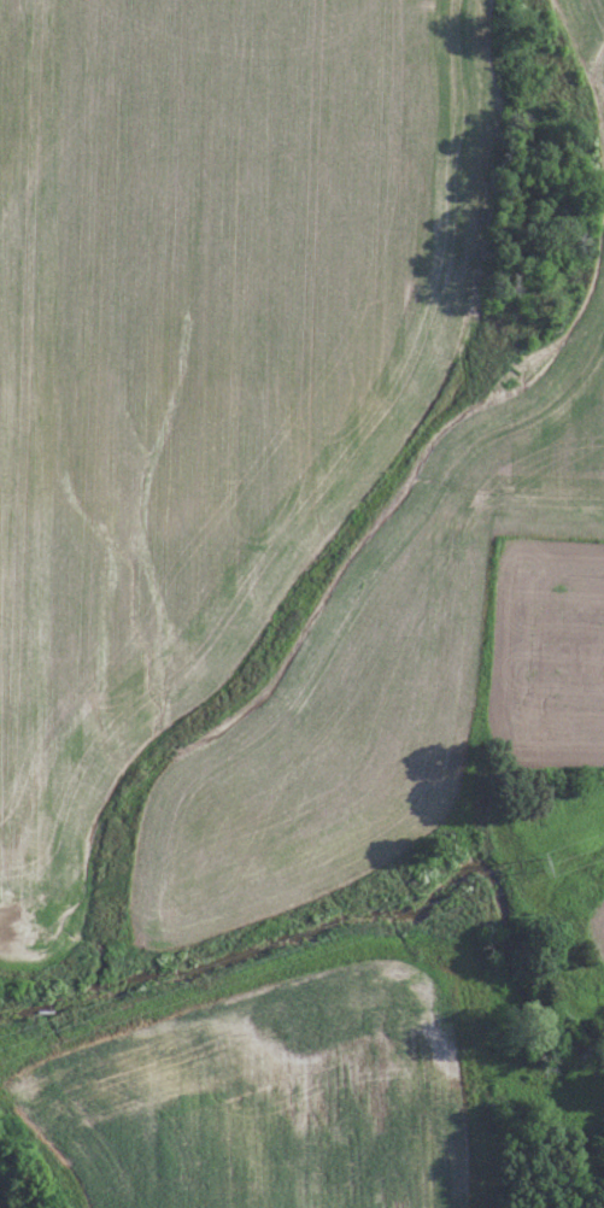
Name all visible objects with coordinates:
power tower: (544, 866)

